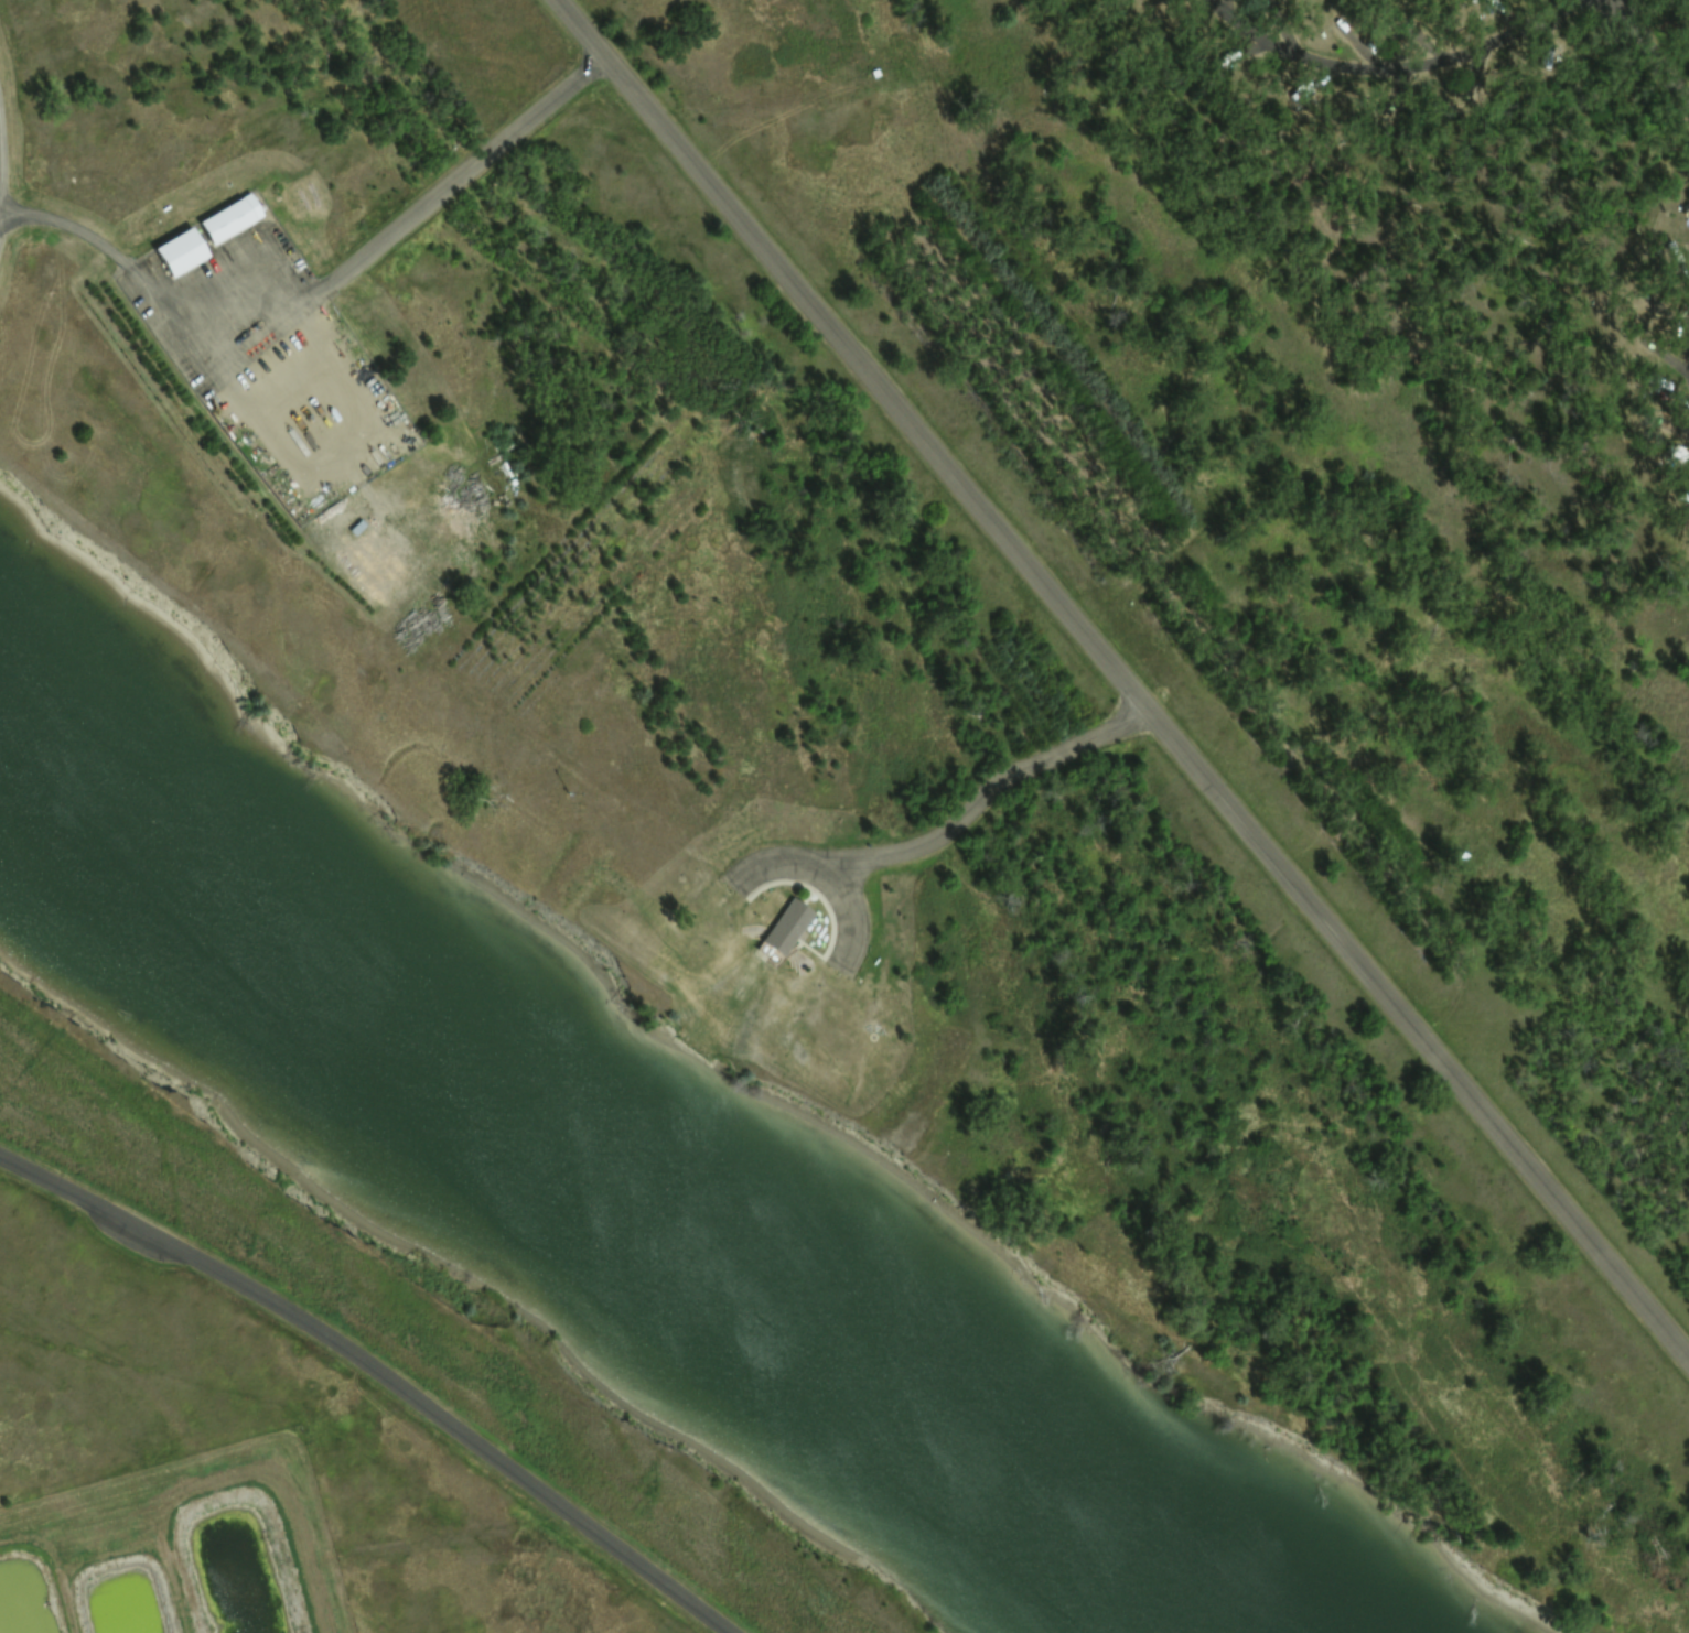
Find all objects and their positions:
road: (1652, 57)
road: (1395, 66)
road: (1688, 111)
road: (458, 171)
building: (219, 220)
road: (68, 226)
building: (172, 251)
road: (1687, 340)
road: (1125, 675)
road: (986, 790)
road: (825, 878)
parking lot: (847, 917)
building: (779, 928)
road: (379, 1367)

